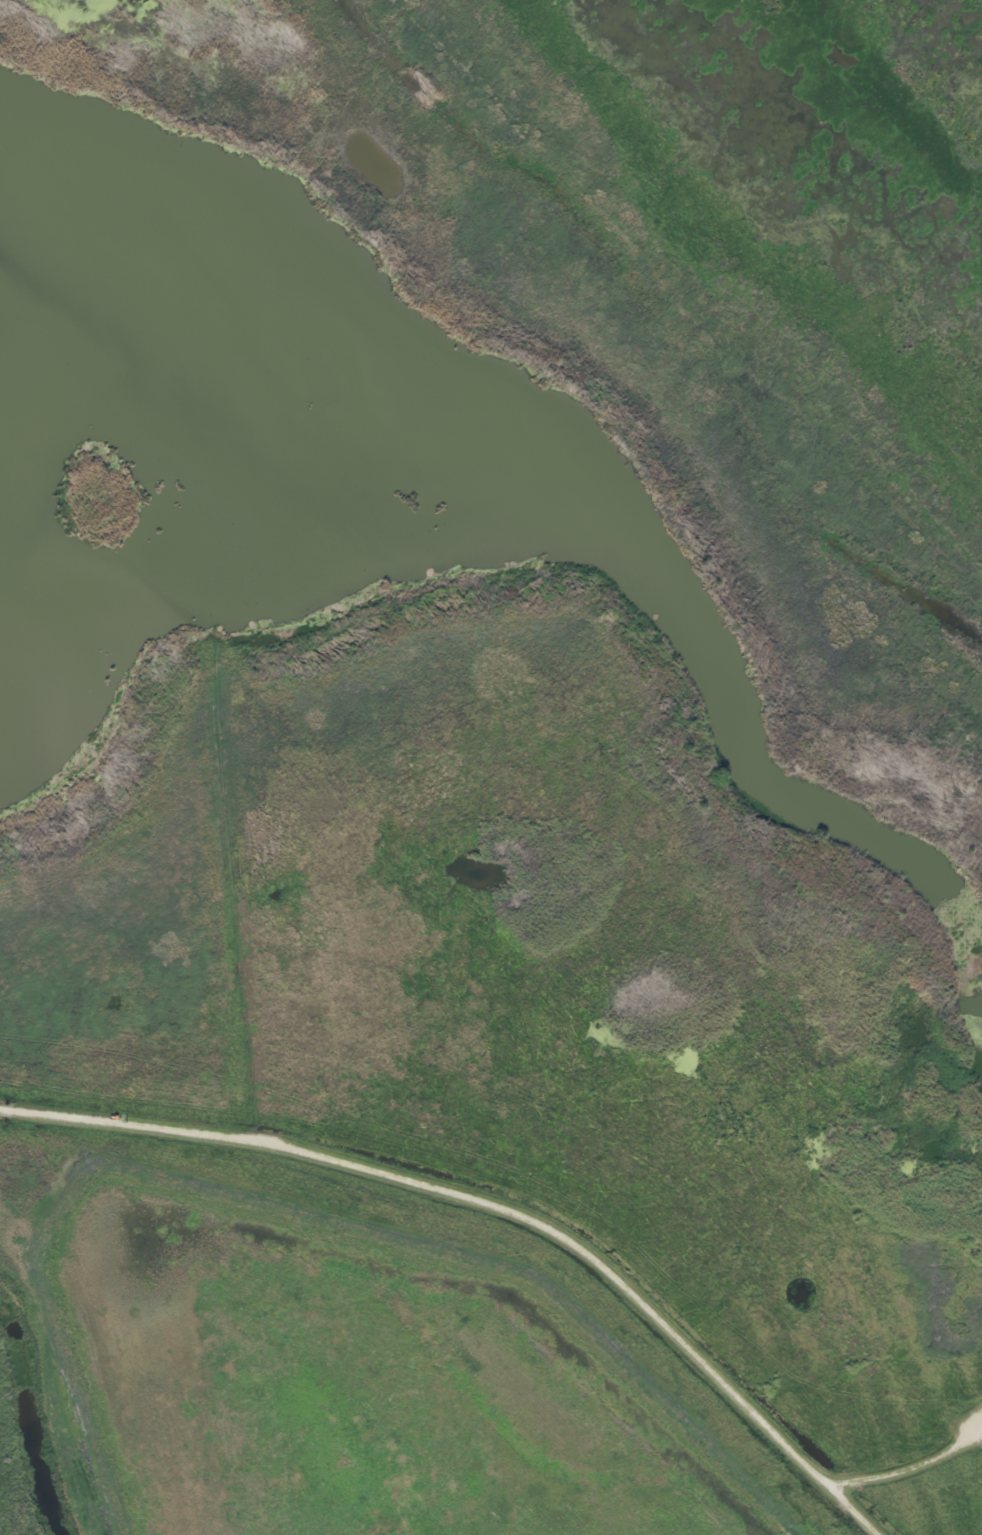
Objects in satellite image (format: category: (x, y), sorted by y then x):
road: (495, 1209)

